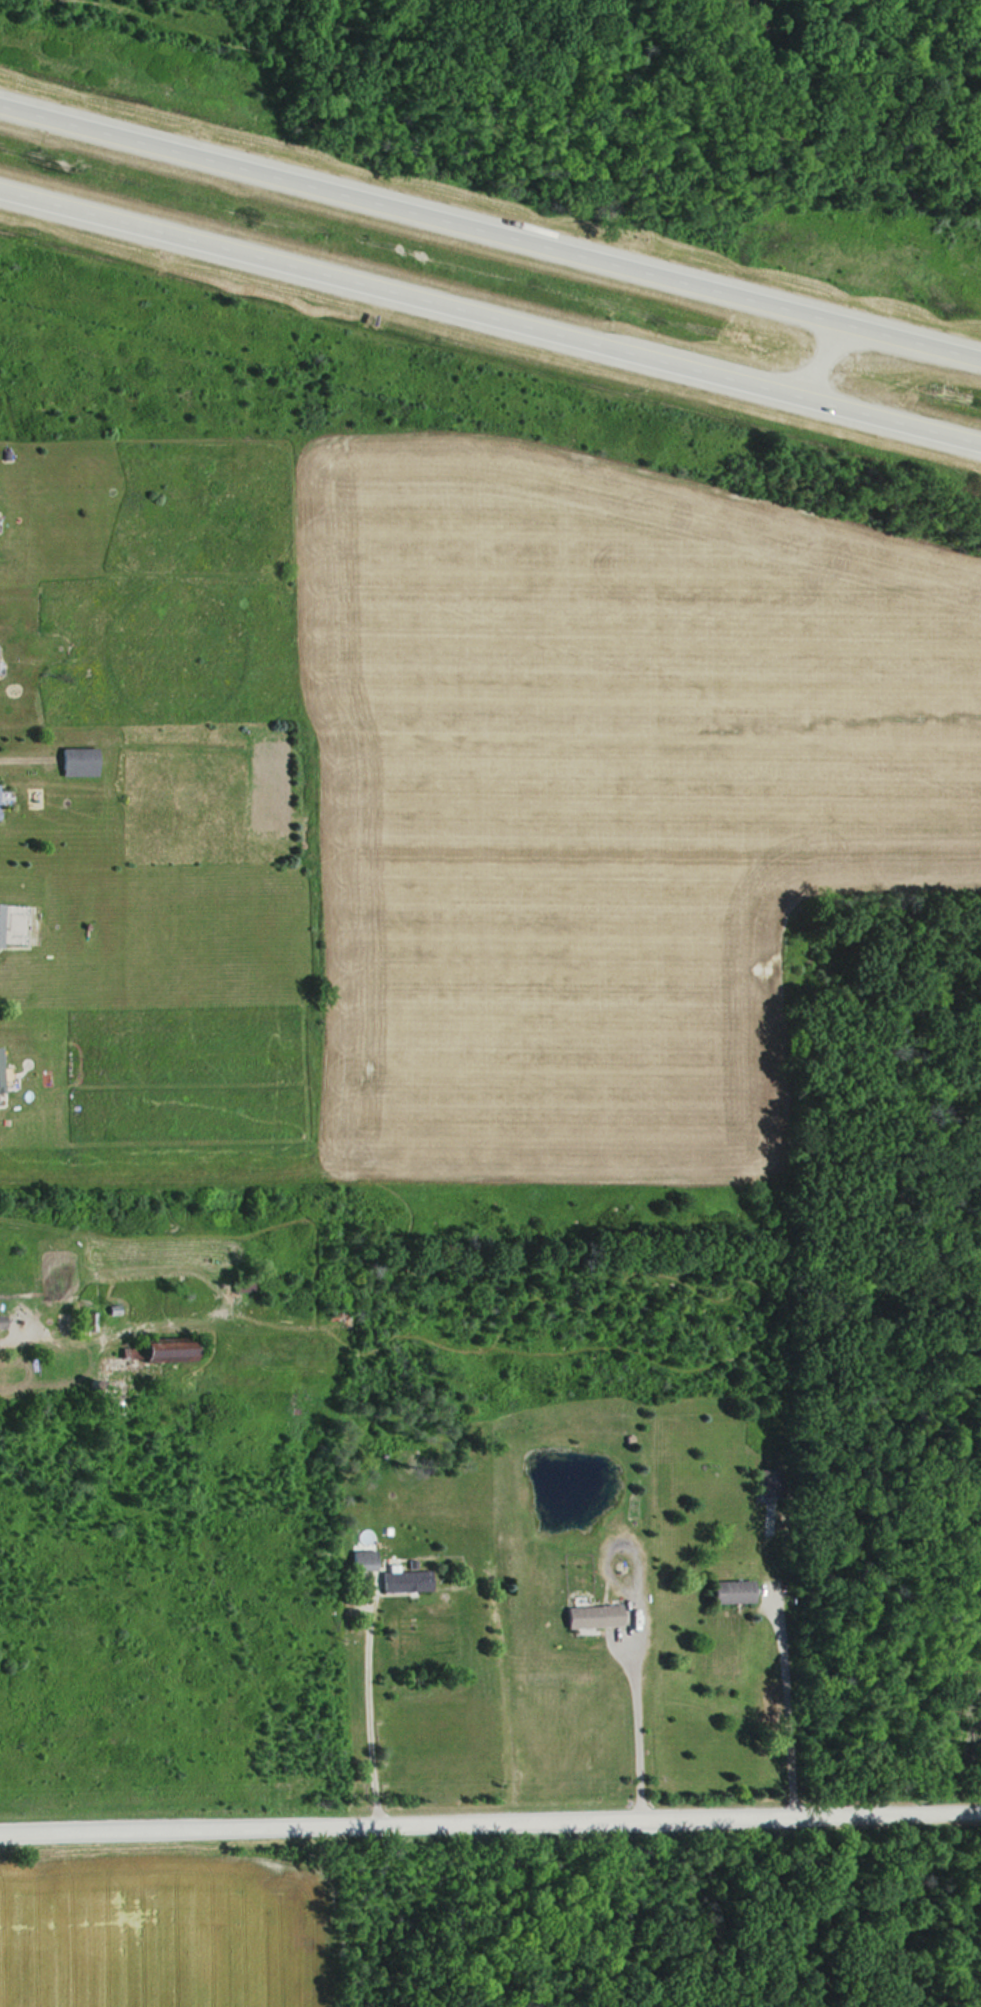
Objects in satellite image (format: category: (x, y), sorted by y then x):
road: (490, 228)
road: (490, 314)
building: (75, 761)
road: (4, 1335)
building: (157, 1350)
building: (112, 1379)
building: (384, 1572)
building: (726, 1591)
building: (588, 1616)
road: (789, 1704)
road: (375, 1706)
road: (638, 1730)
road: (490, 1820)

